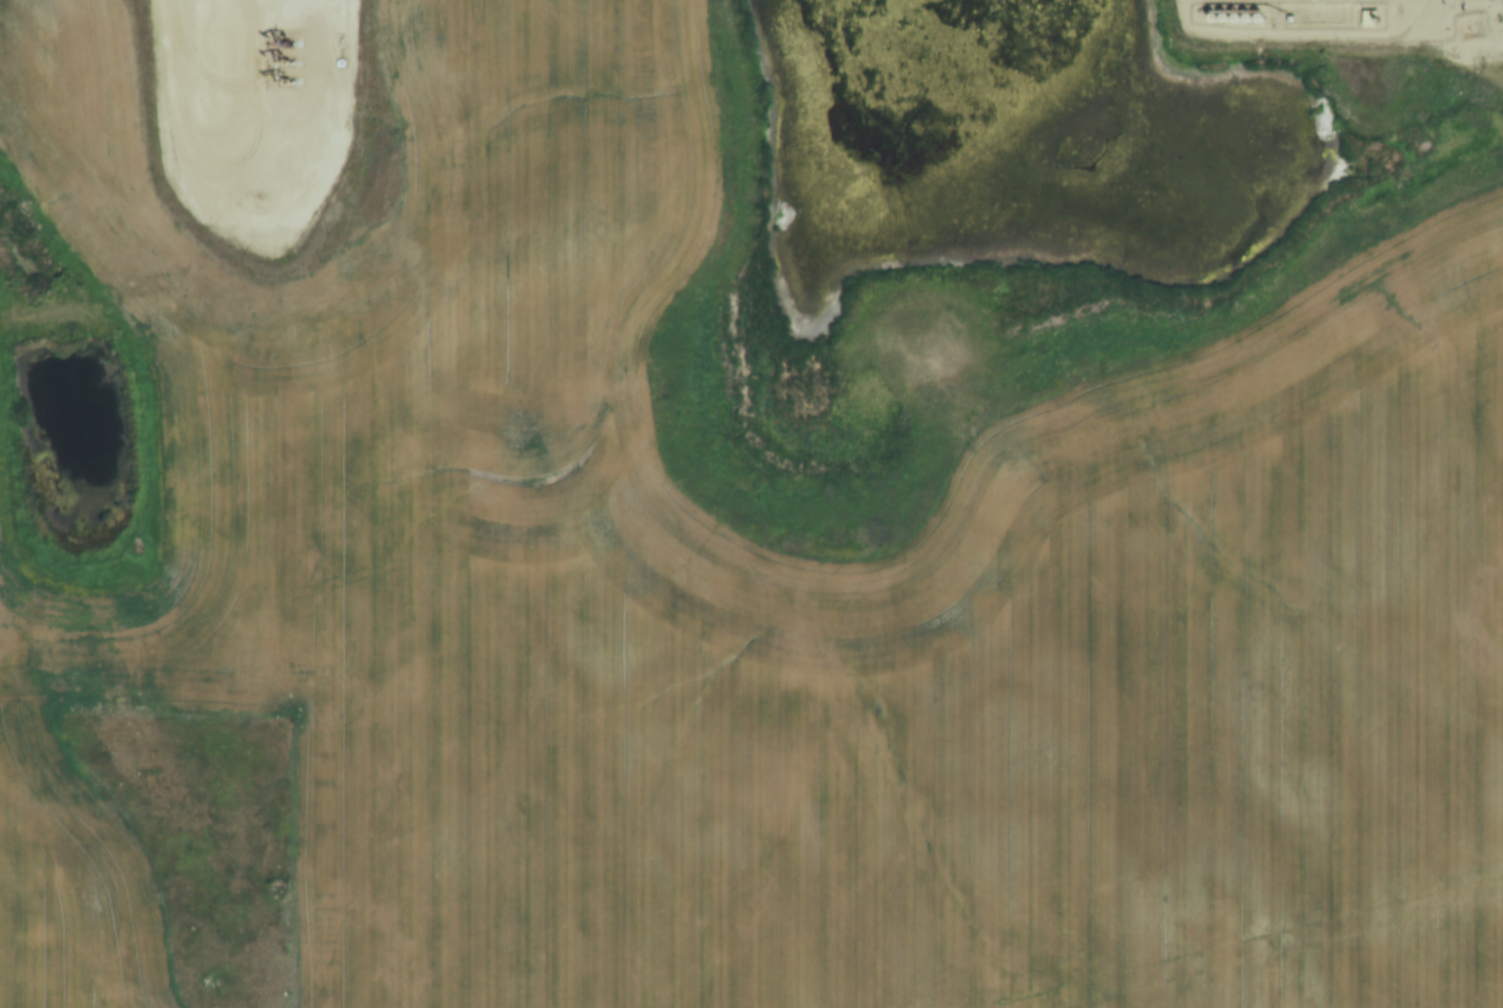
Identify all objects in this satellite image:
building: (1368, 17)
road: (169, 792)

